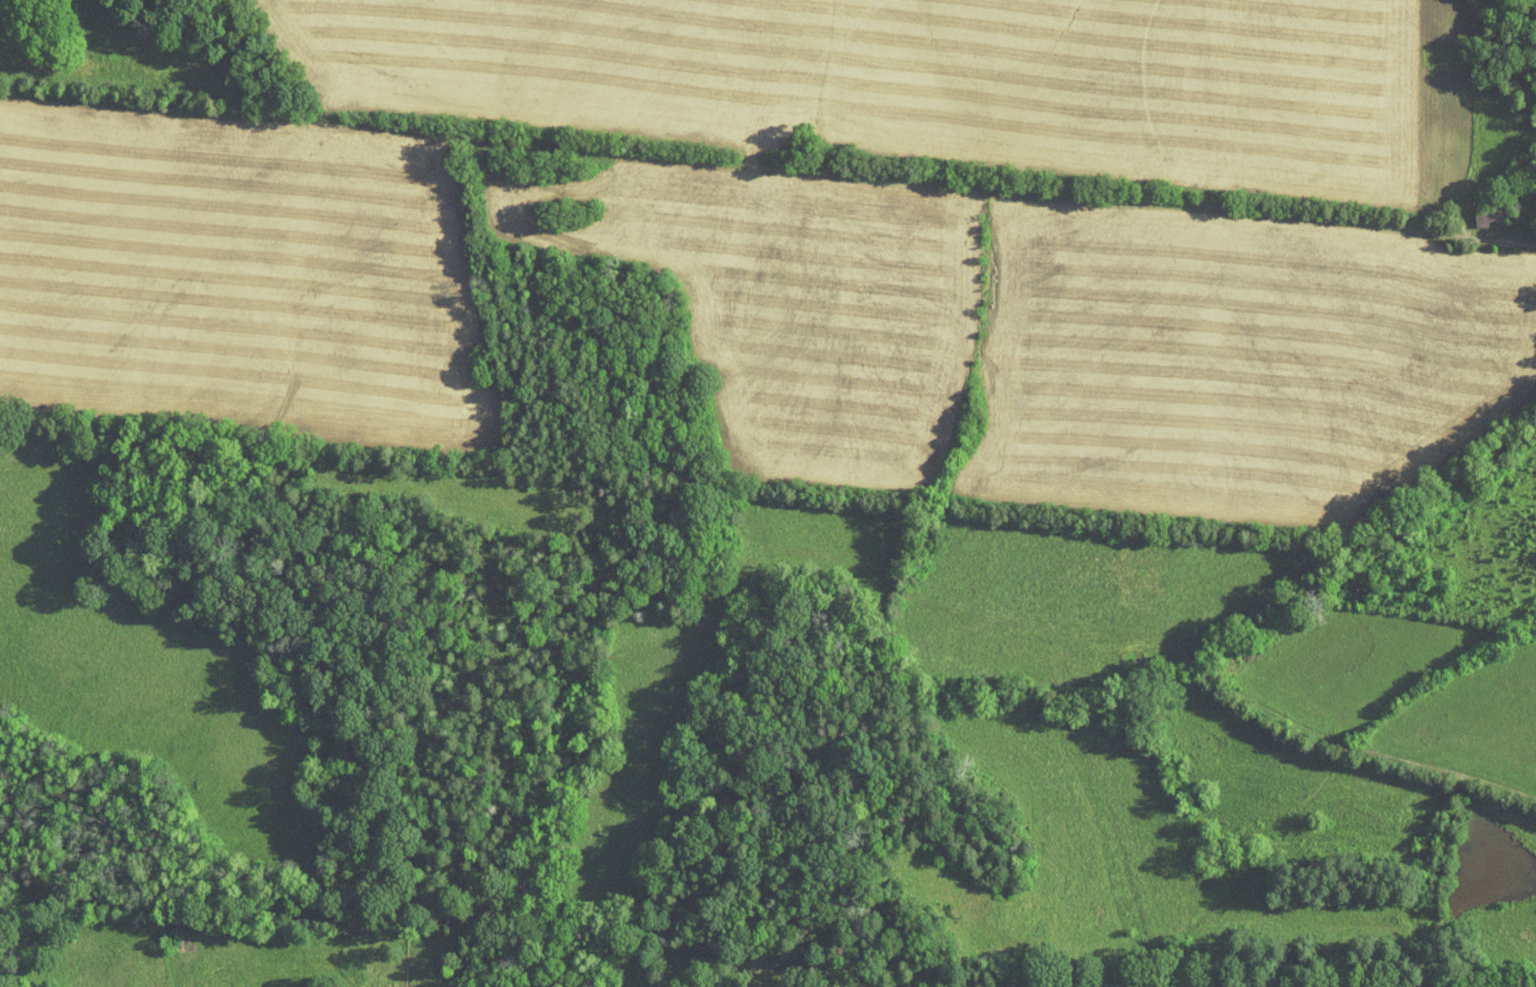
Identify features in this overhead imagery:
building: (1478, 208)
park: (1205, 976)

